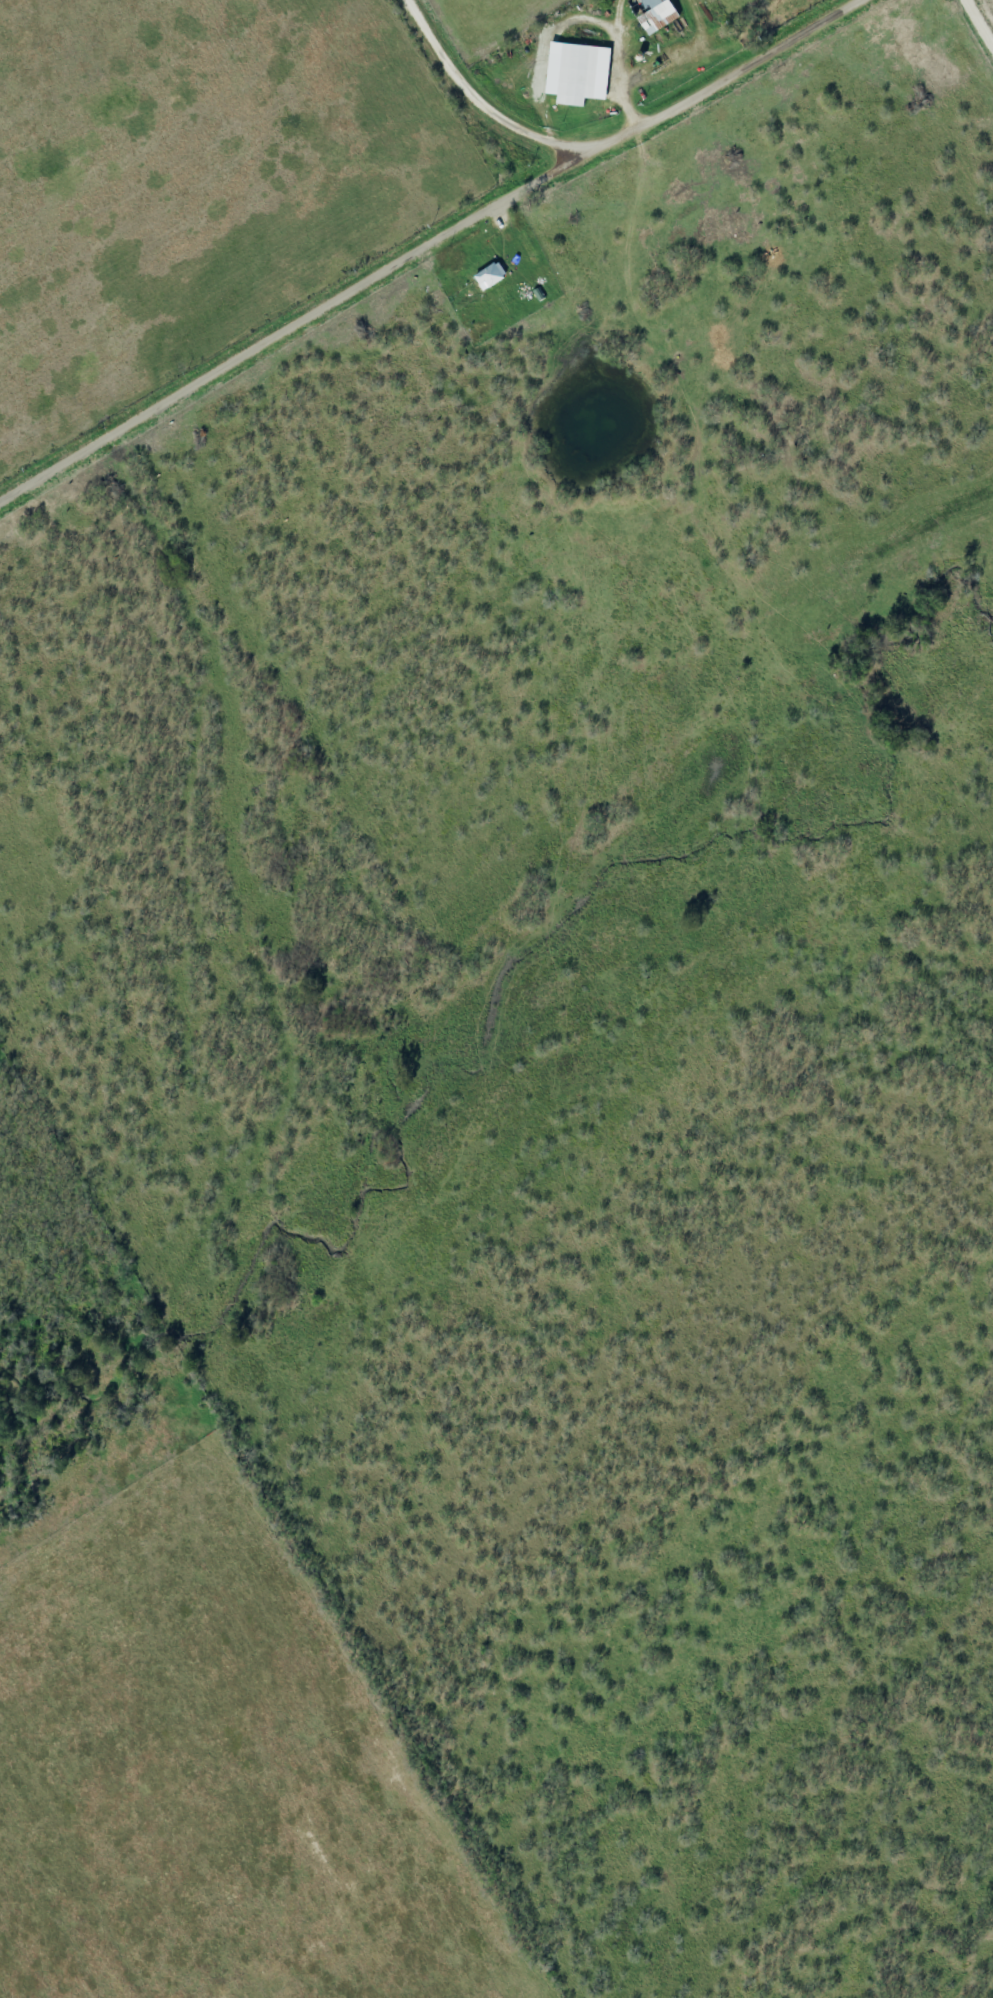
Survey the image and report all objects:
building: (659, 13)
road: (984, 16)
building: (582, 74)
road: (487, 99)
road: (432, 248)
building: (495, 276)

